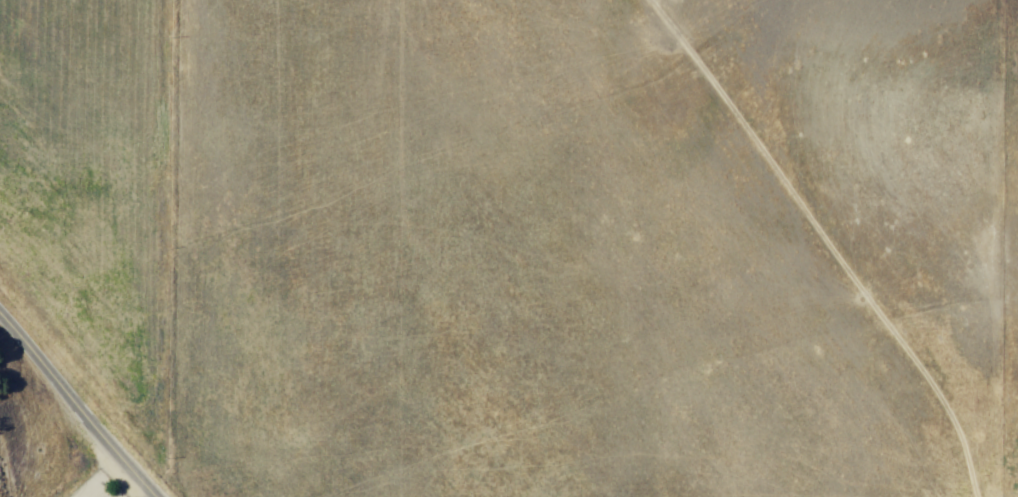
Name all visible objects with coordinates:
crop: (528, 240)
road: (71, 408)

